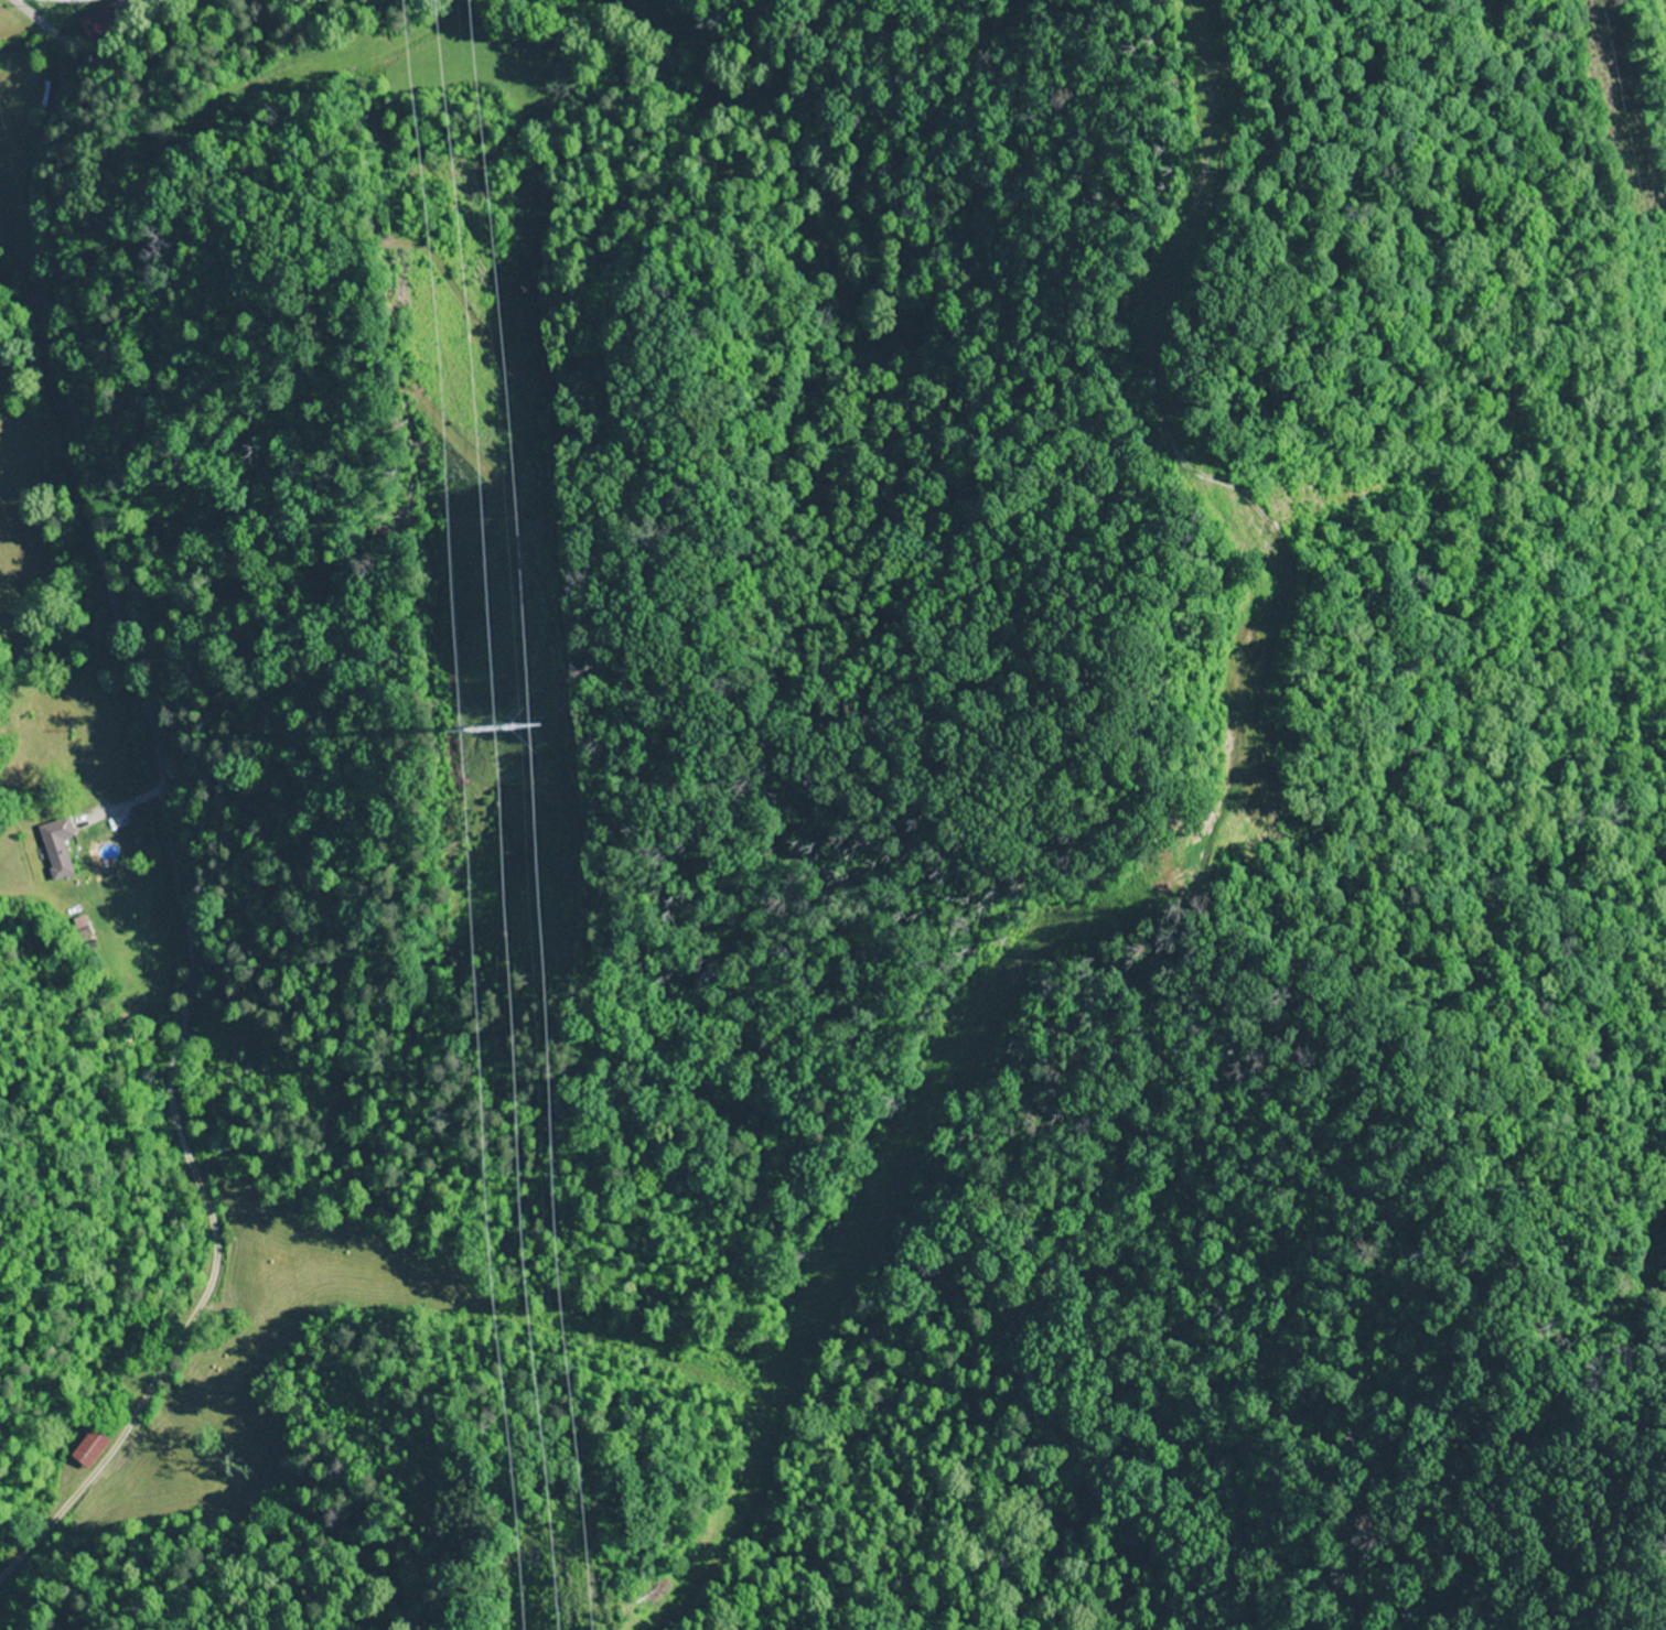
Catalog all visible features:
power tower: (504, 742)
road: (176, 831)
building: (55, 836)
building: (87, 1449)

